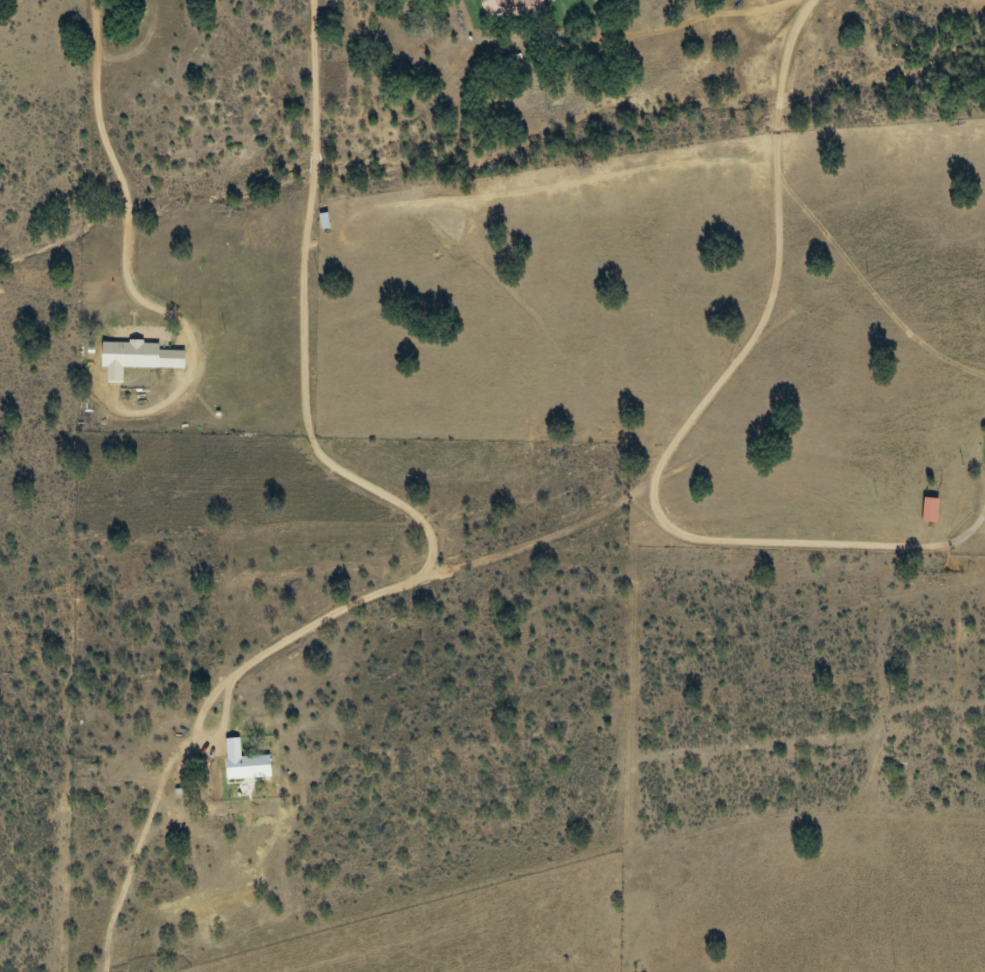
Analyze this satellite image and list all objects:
building: (513, 8)
building: (324, 221)
building: (136, 354)
road: (673, 481)
building: (930, 509)
building: (245, 761)

